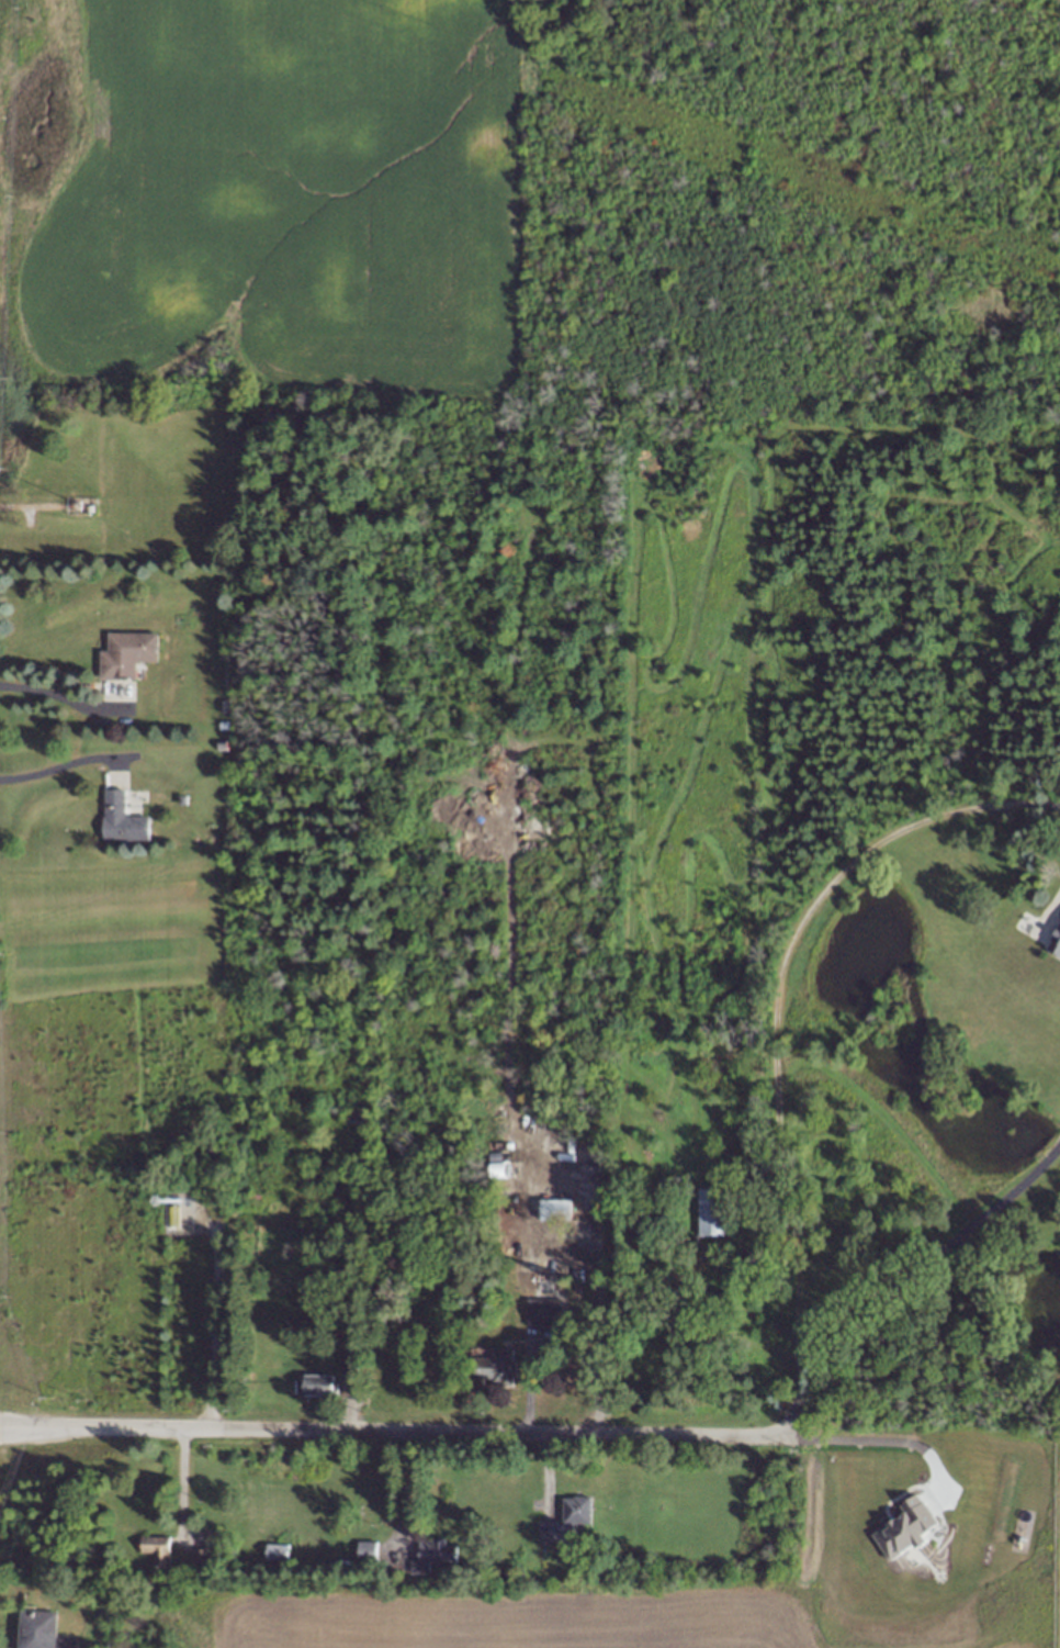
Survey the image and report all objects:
building: (74, 503)
building: (128, 651)
road: (59, 697)
building: (223, 744)
road: (58, 761)
building: (182, 799)
building: (122, 819)
building: (1058, 946)
road: (771, 985)
building: (357, 1118)
building: (497, 1165)
building: (556, 1211)
building: (714, 1213)
building: (172, 1217)
road: (903, 1278)
building: (340, 1280)
building: (544, 1312)
road: (211, 1327)
building: (349, 1366)
building: (497, 1369)
building: (318, 1386)
road: (392, 1431)
road: (882, 1435)
building: (567, 1520)
building: (904, 1527)
building: (368, 1551)
building: (278, 1552)
building: (154, 1554)
building: (431, 1556)
building: (200, 1560)
building: (45, 1633)

